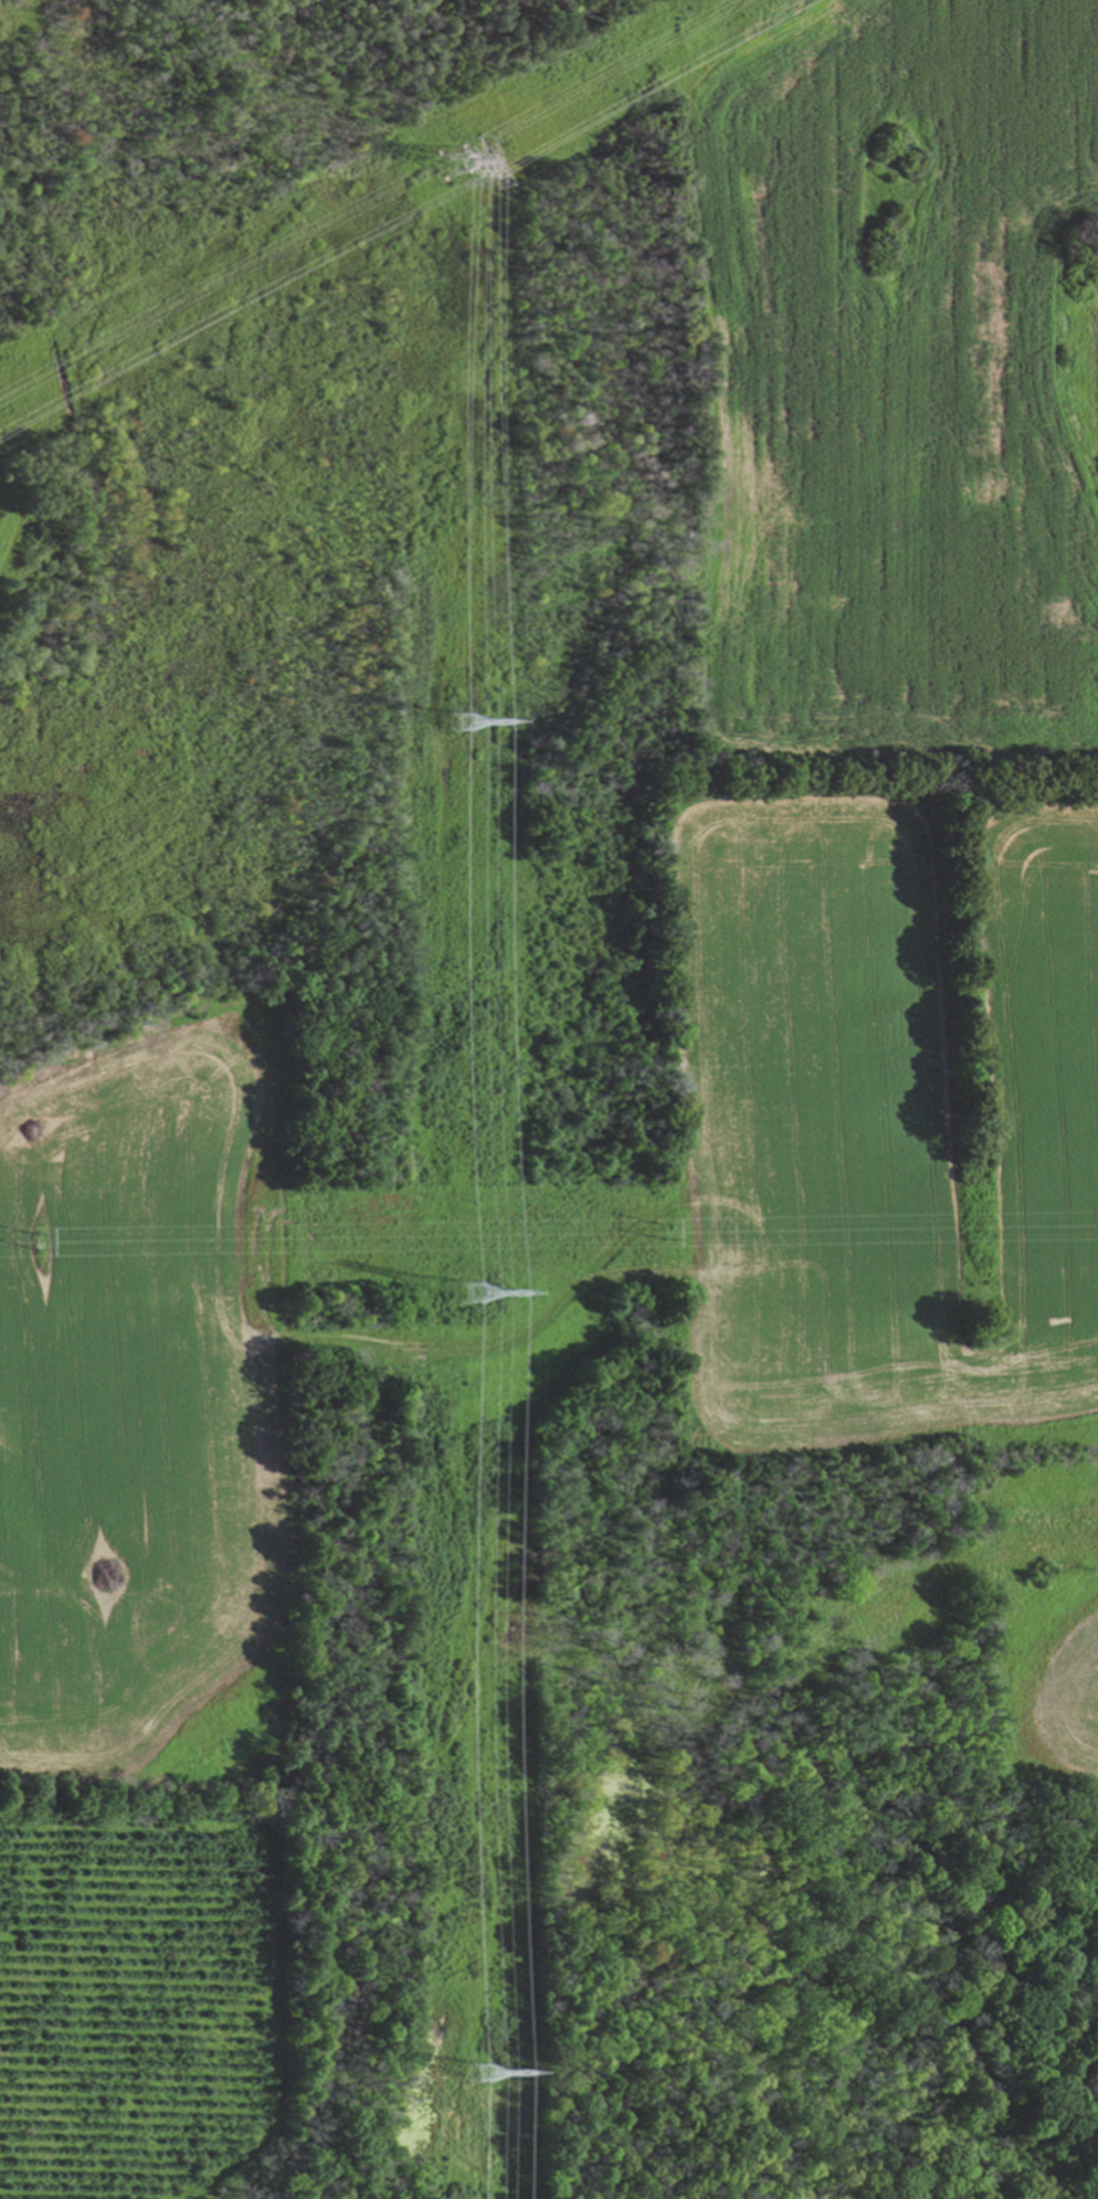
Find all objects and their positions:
power tower: (458, 160)
power tower: (465, 721)
power tower: (663, 1231)
power tower: (36, 1243)
power tower: (469, 1296)
power tower: (481, 2075)

